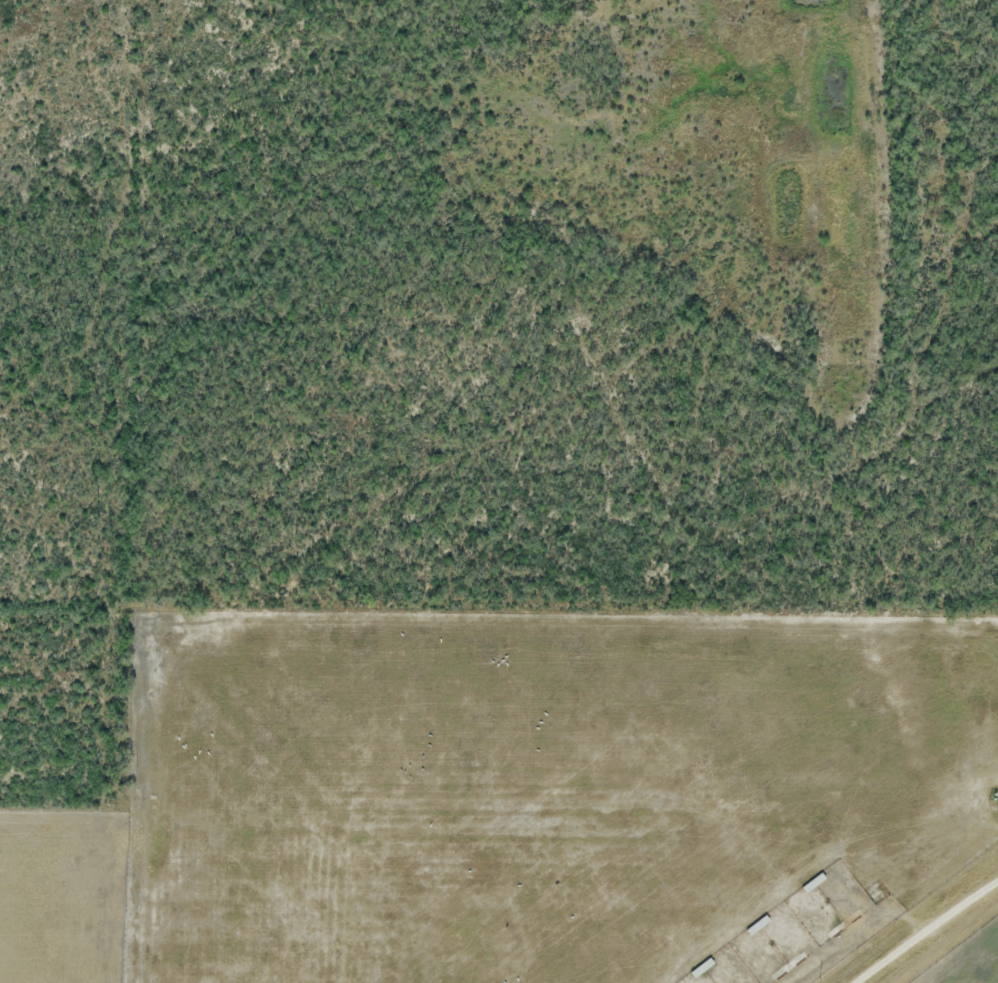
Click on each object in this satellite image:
road: (935, 937)

